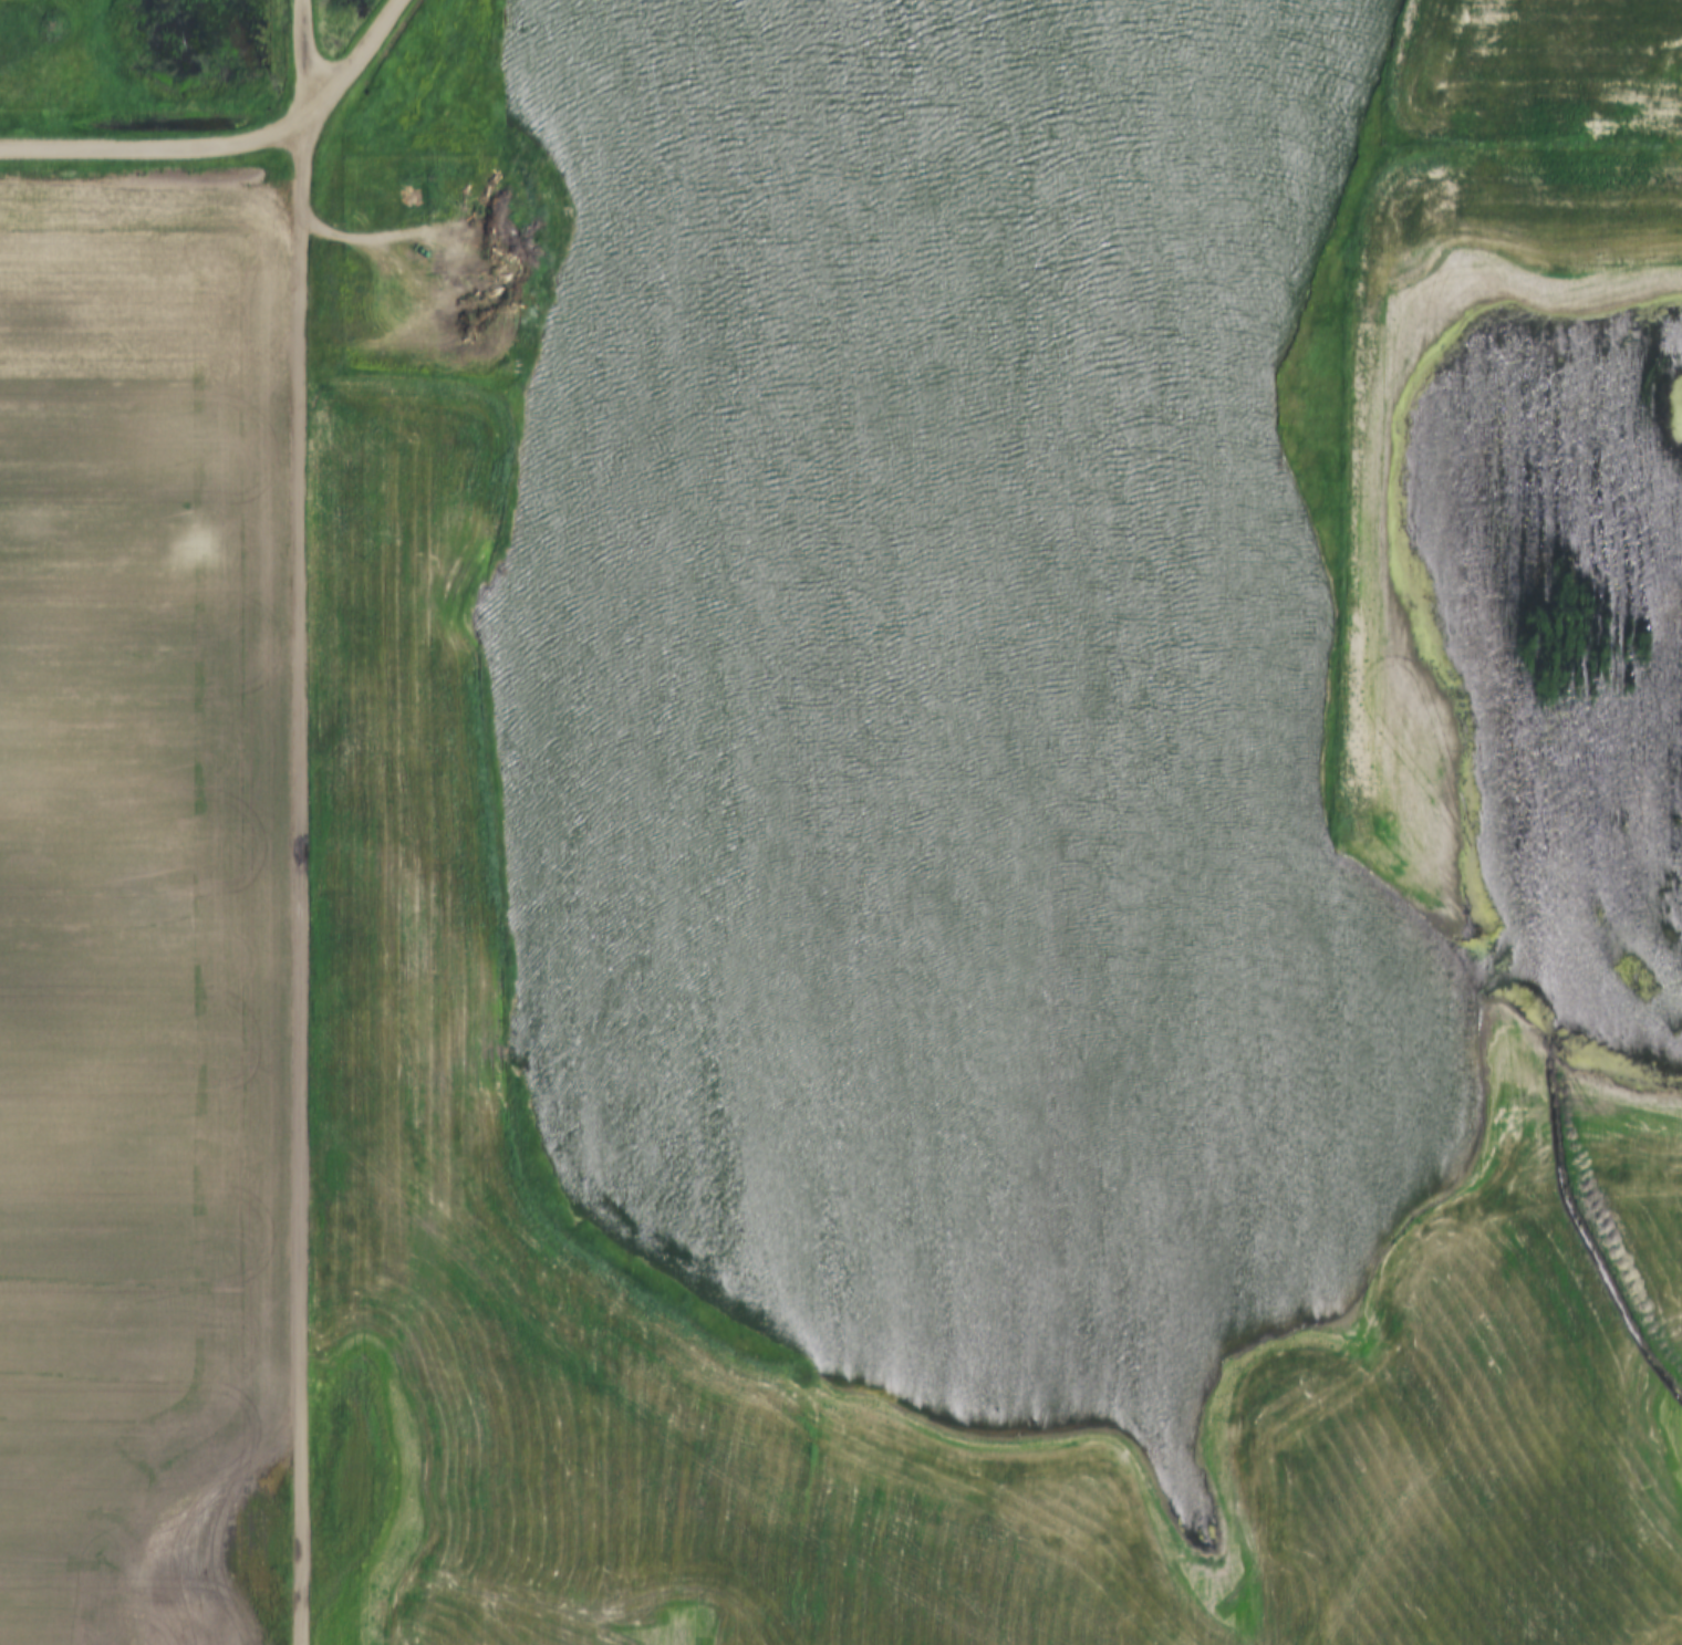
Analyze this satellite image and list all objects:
road: (351, 62)
road: (153, 148)
road: (476, 243)
road: (297, 822)

